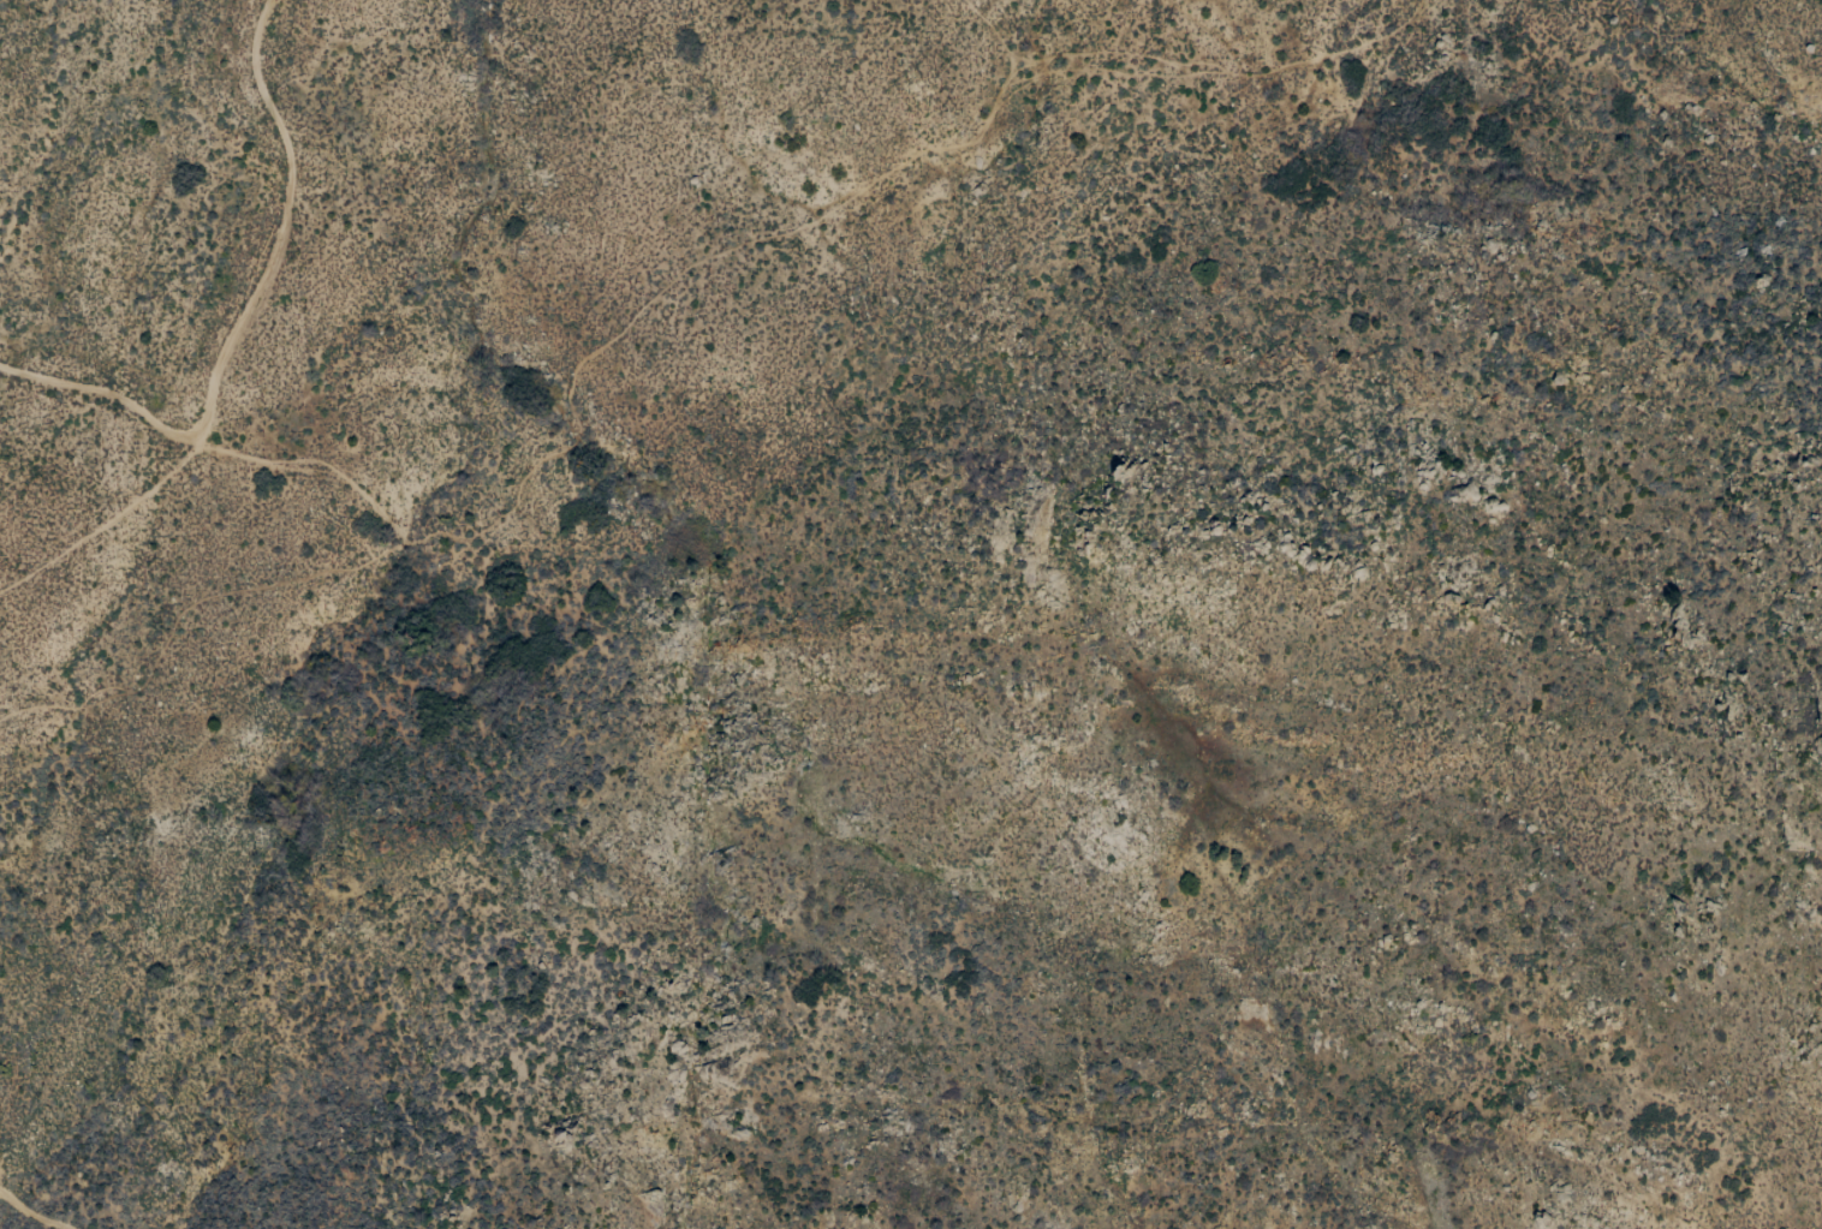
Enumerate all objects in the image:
road: (32, 1213)

